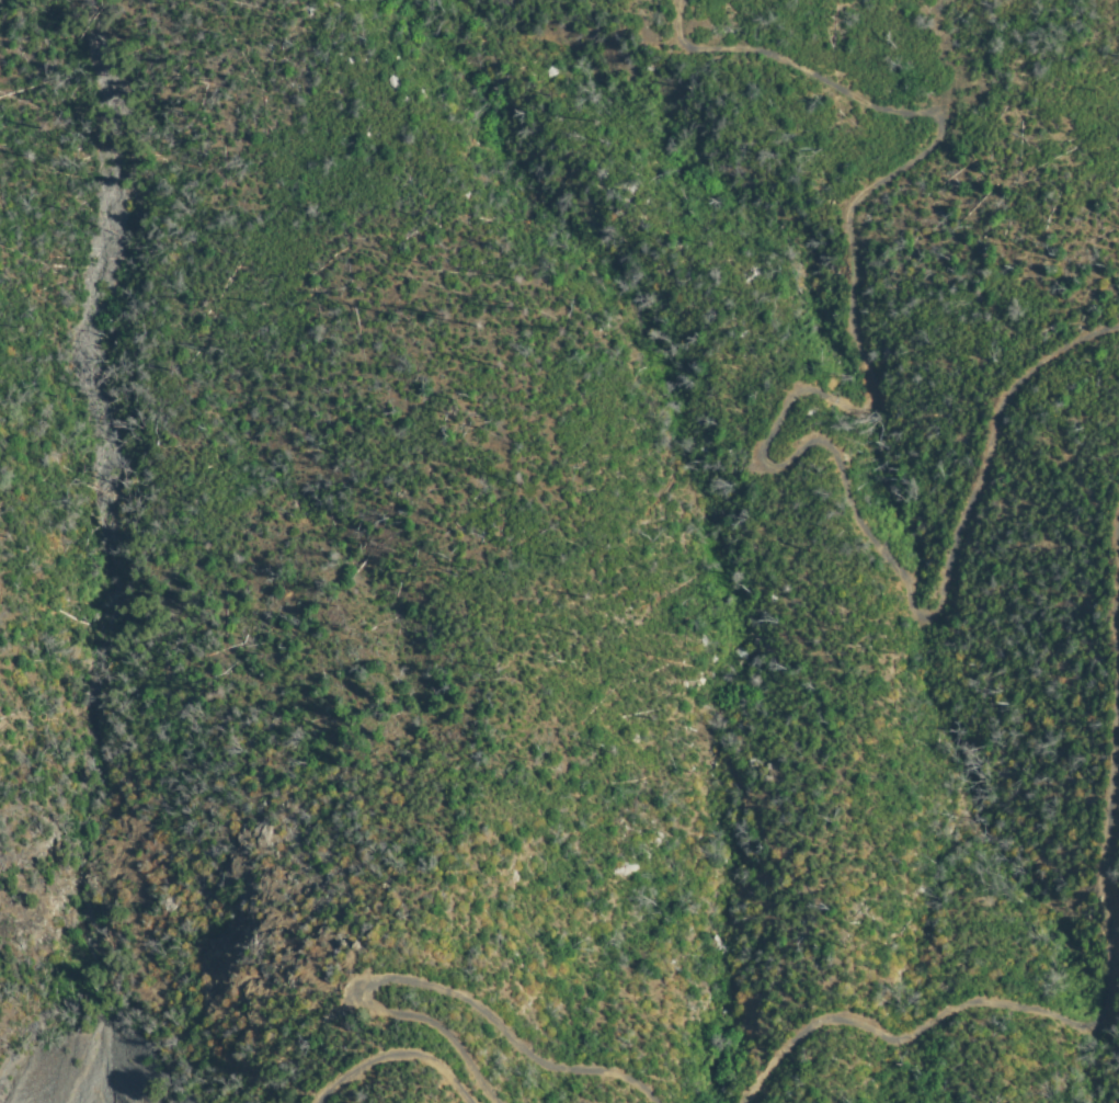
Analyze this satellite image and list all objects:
road: (798, 396)
road: (1110, 974)
road: (434, 987)
road: (398, 1056)

